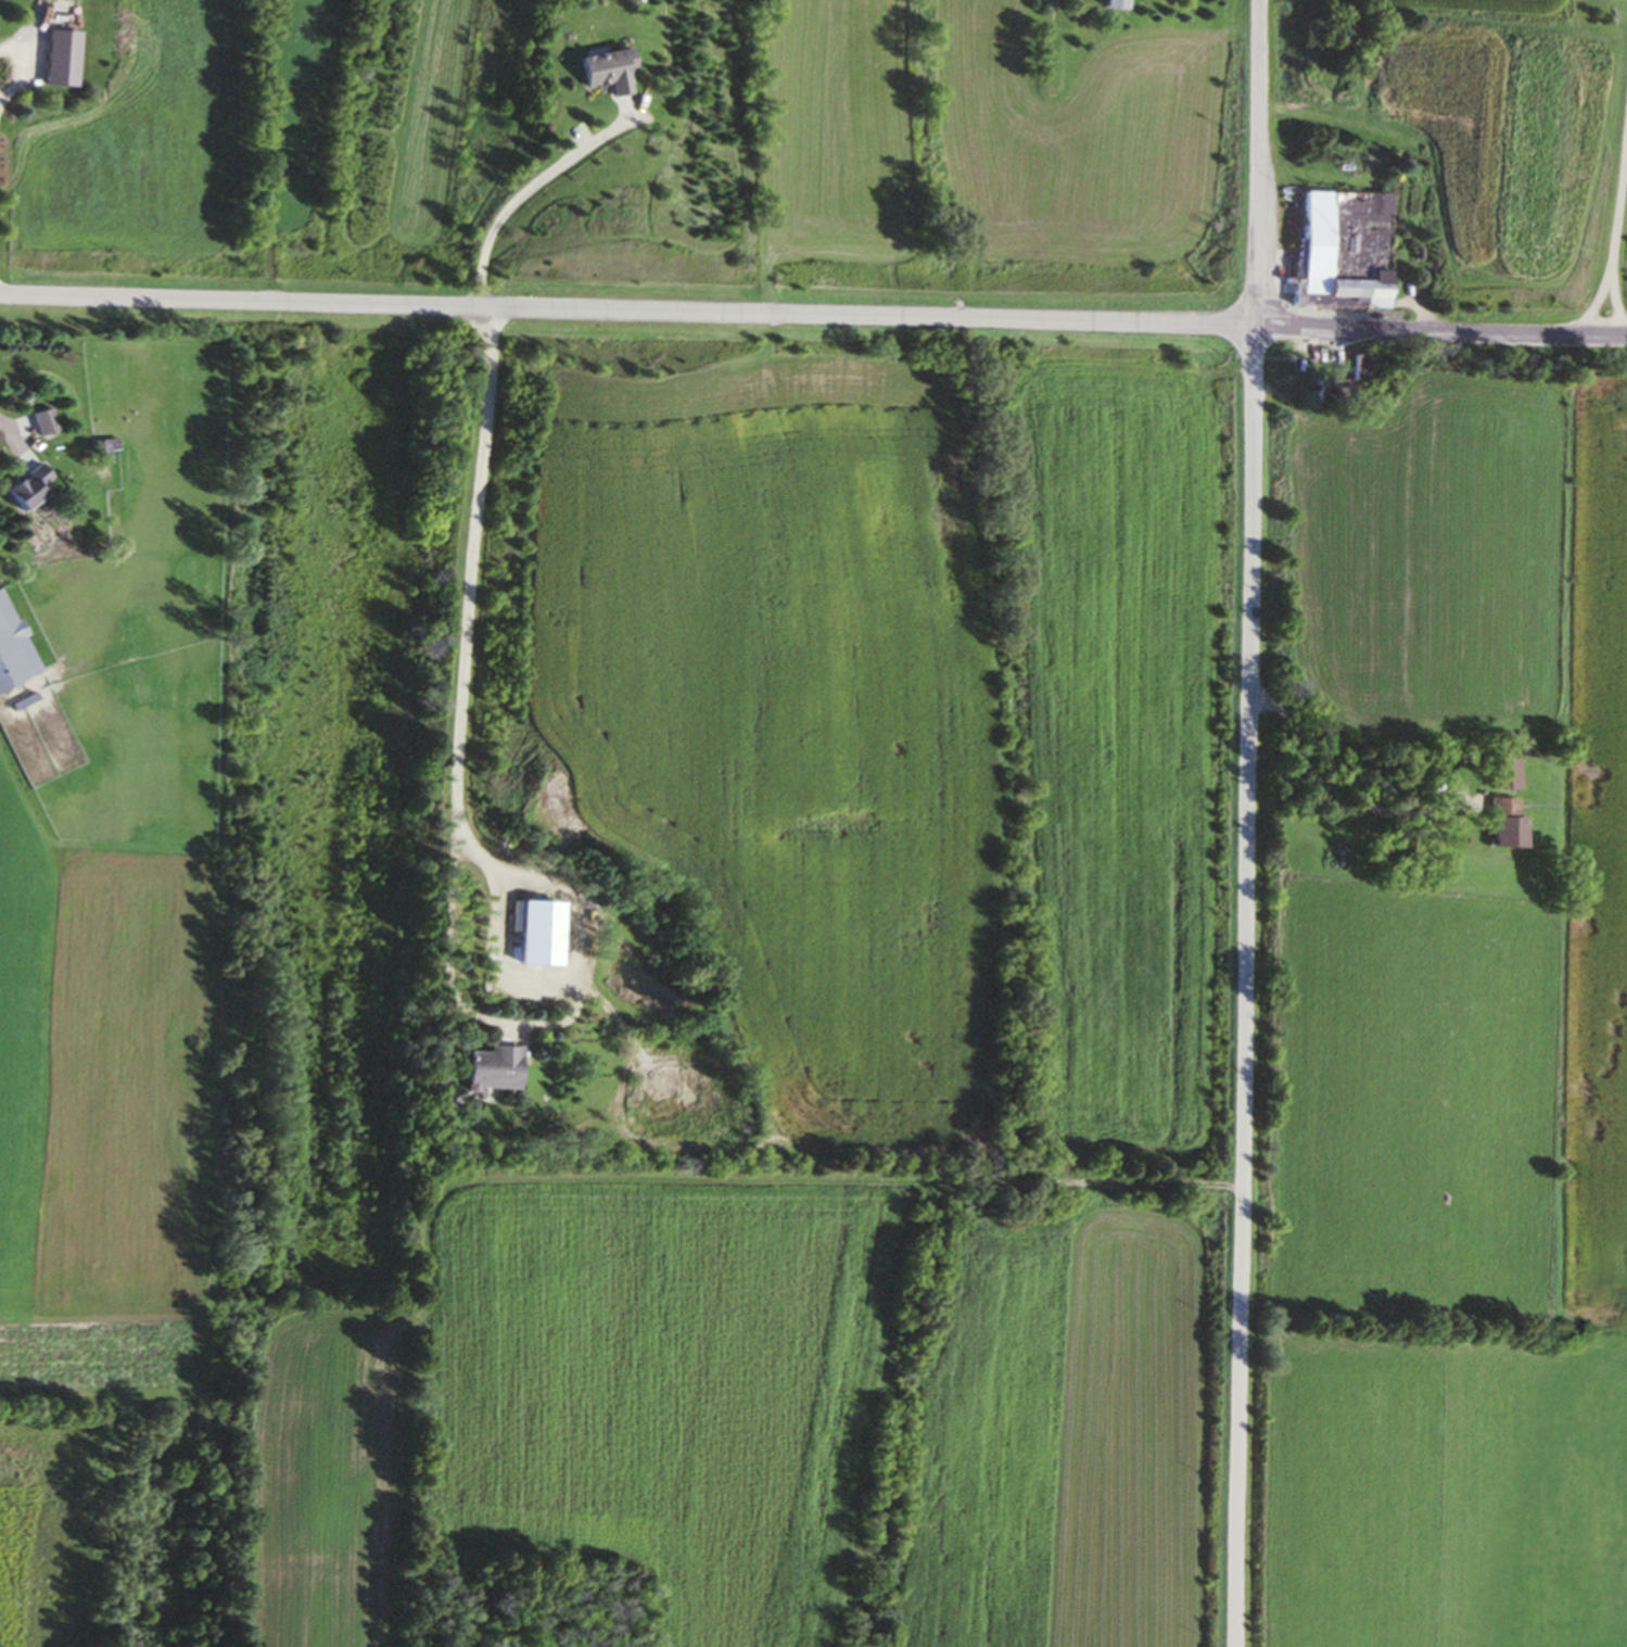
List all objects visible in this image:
building: (1115, 4)
building: (49, 56)
building: (603, 73)
road: (525, 194)
road: (1620, 224)
building: (1344, 248)
road: (1607, 293)
road: (813, 315)
building: (1352, 384)
building: (40, 425)
road: (10, 436)
building: (103, 451)
building: (23, 490)
building: (12, 651)
building: (1501, 776)
road: (1249, 823)
building: (1503, 824)
road: (452, 849)
building: (537, 935)
building: (488, 1070)

